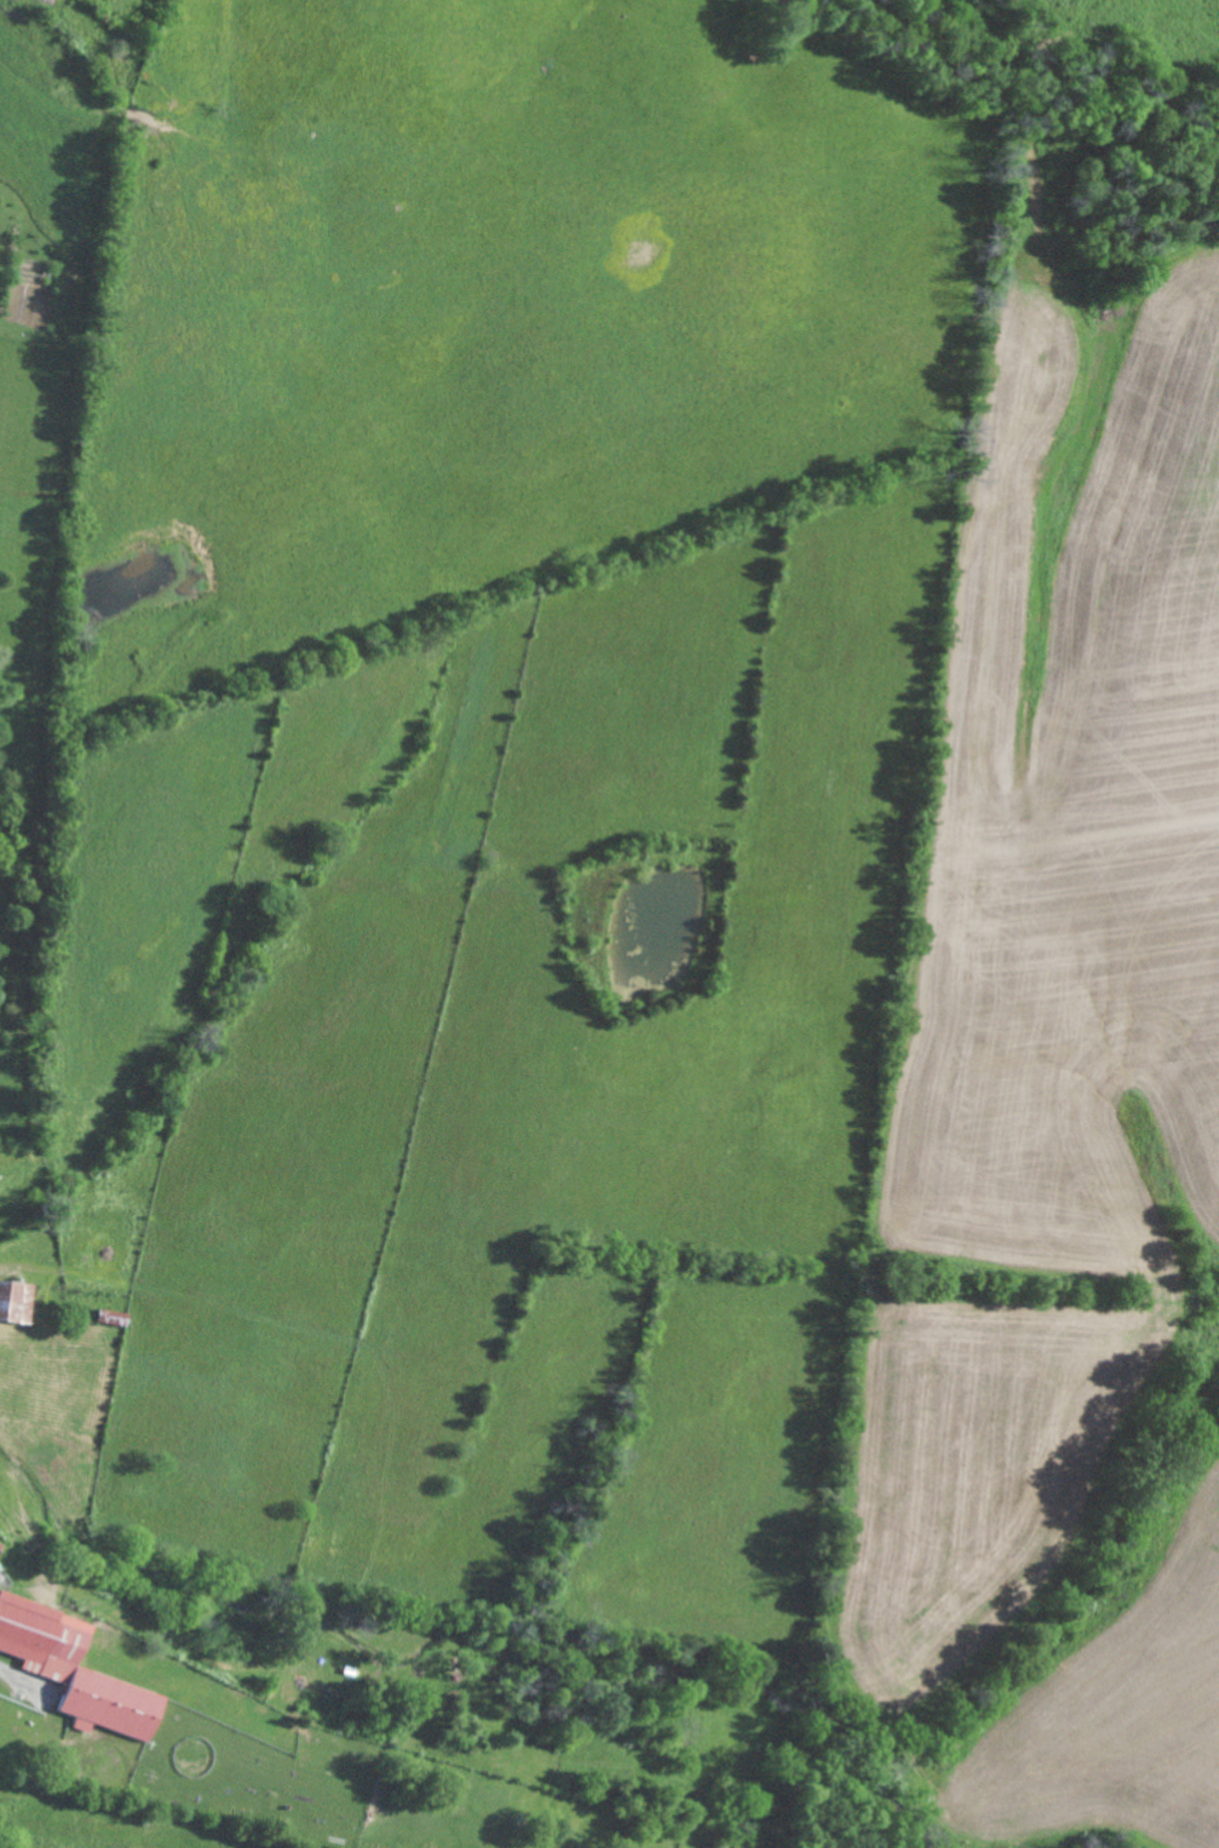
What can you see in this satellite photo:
road: (21, 17)
building: (18, 1302)
building: (1, 1548)
building: (79, 1669)

